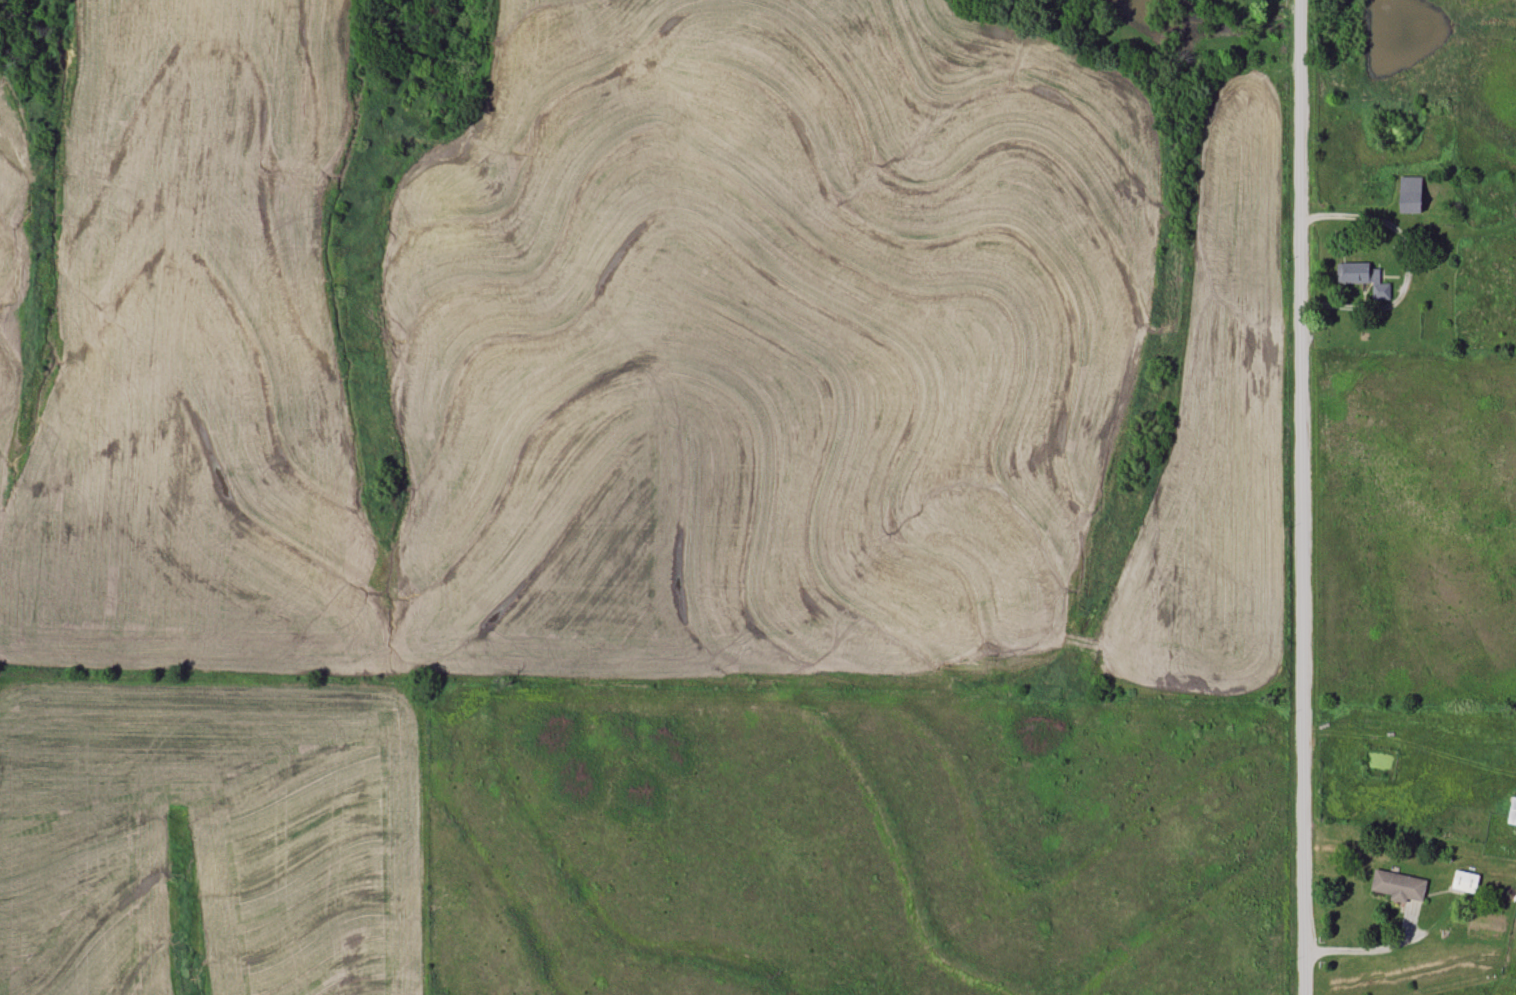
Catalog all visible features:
building: (1412, 195)
road: (1411, 266)
building: (1365, 278)
road: (1303, 497)
building: (1513, 811)
building: (1466, 882)
building: (1399, 885)
road: (1377, 948)

